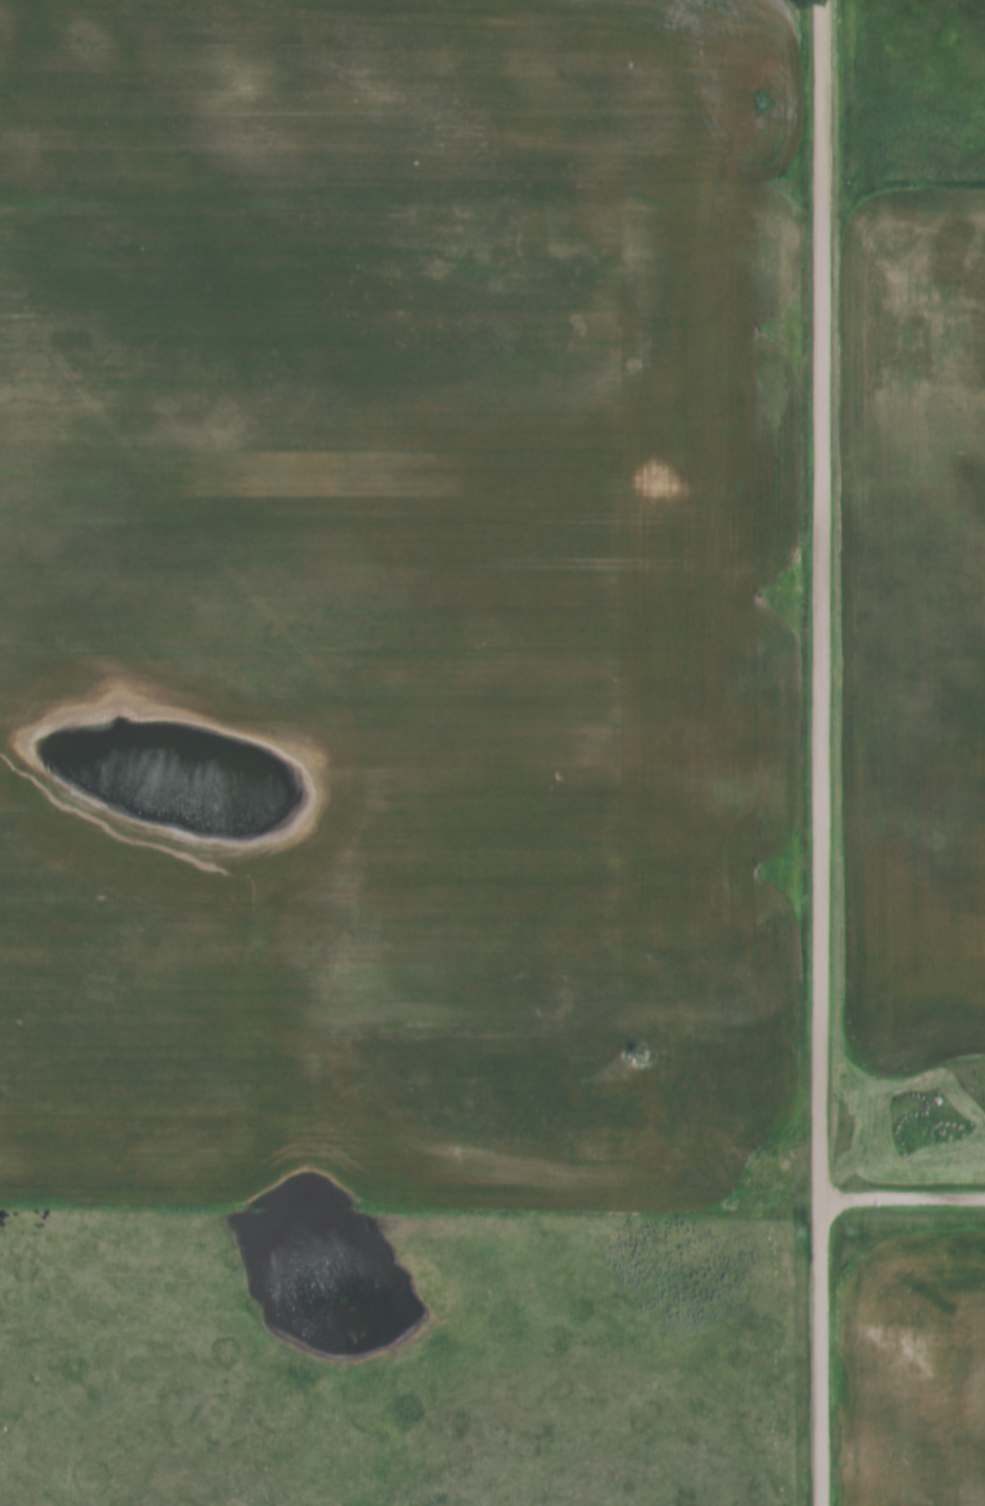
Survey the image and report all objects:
road: (820, 753)
road: (902, 1191)

